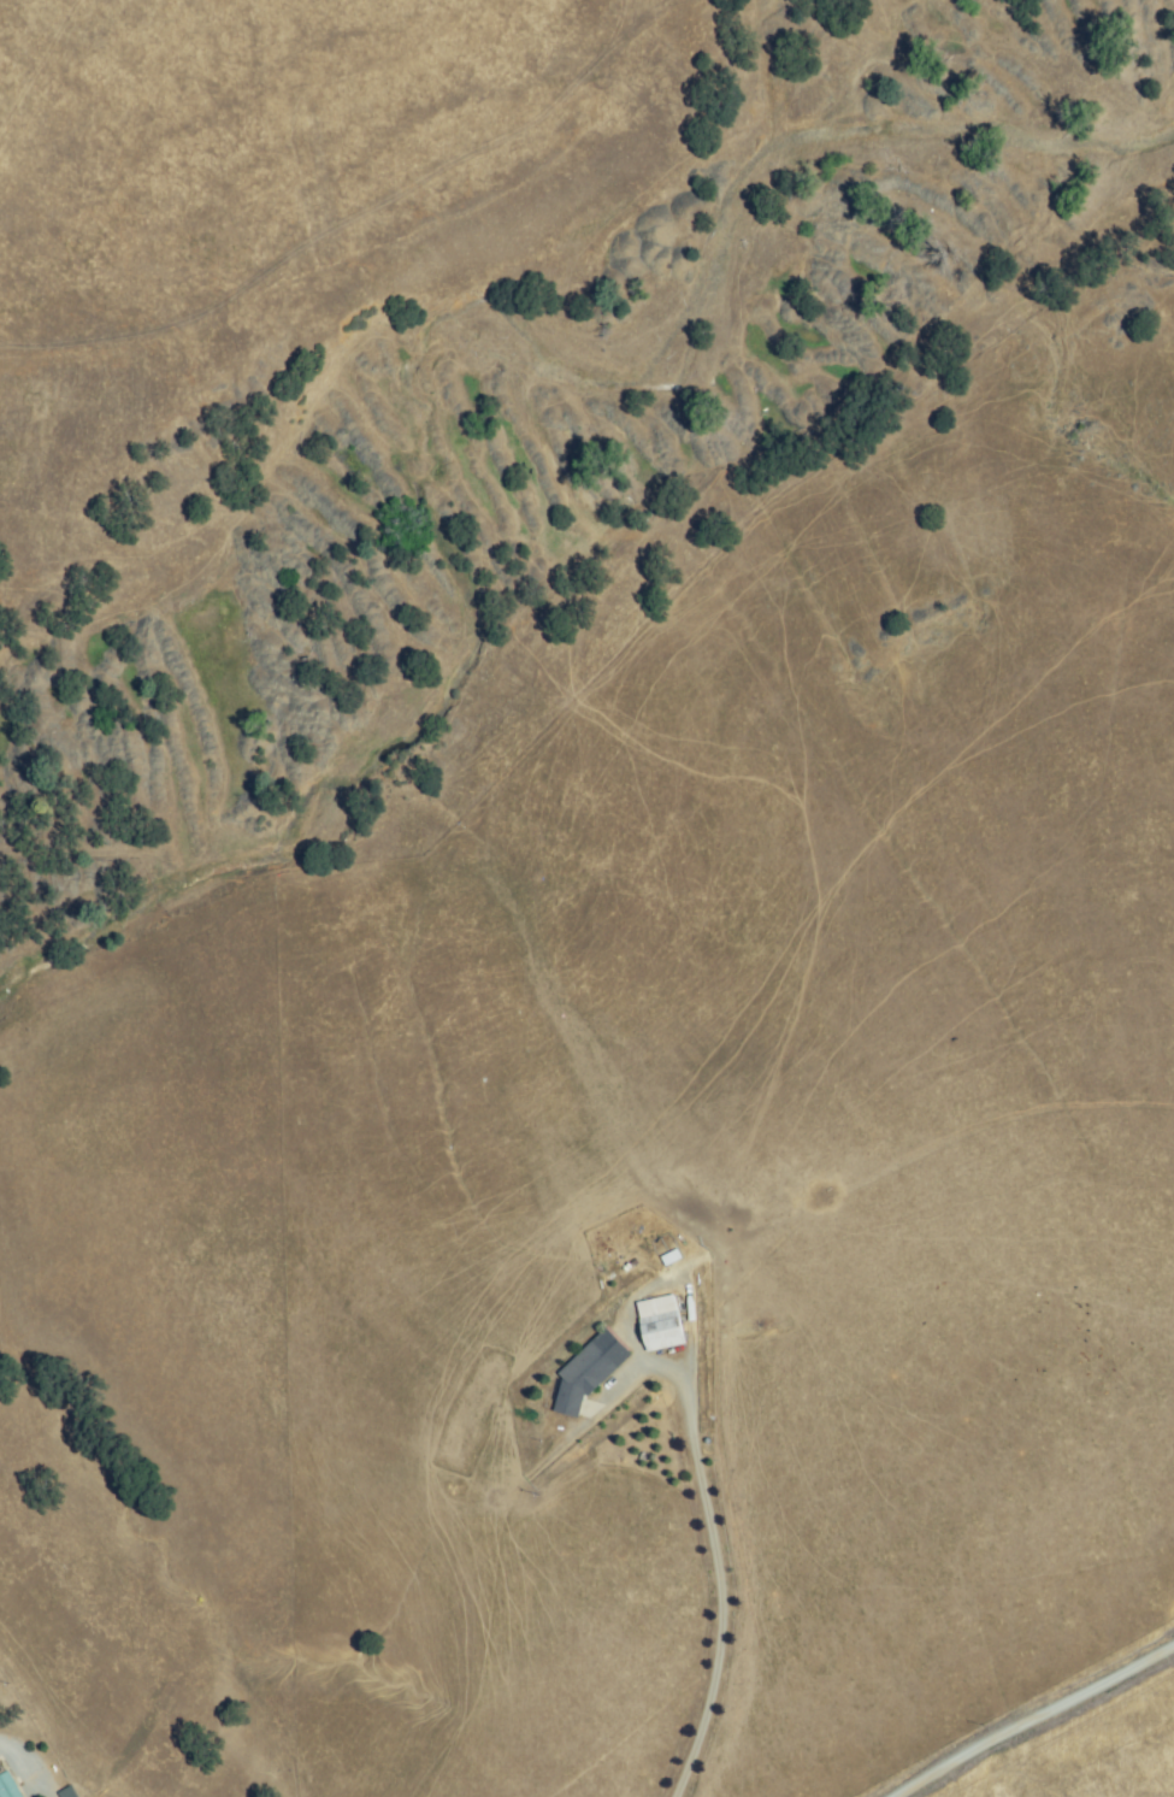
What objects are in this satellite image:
building: (661, 1324)
building: (582, 1379)
road: (719, 1586)
road: (1032, 1716)
building: (6, 1786)

